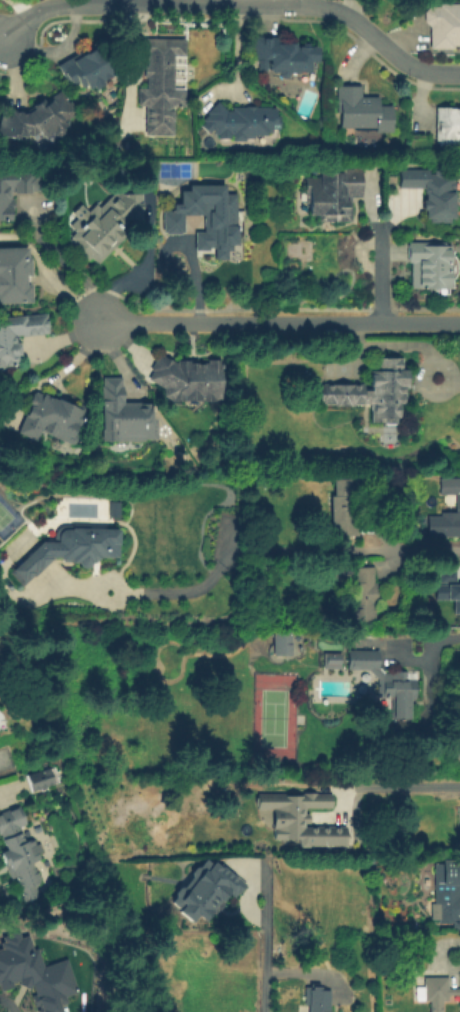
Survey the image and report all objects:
road: (111, 1)
road: (236, 1)
road: (20, 8)
road: (353, 10)
building: (444, 26)
building: (280, 56)
building: (88, 66)
building: (176, 72)
building: (159, 83)
building: (362, 110)
building: (37, 118)
building: (239, 121)
building: (448, 122)
building: (15, 185)
building: (432, 193)
building: (335, 195)
building: (205, 215)
building: (105, 223)
road: (183, 253)
building: (429, 264)
road: (67, 265)
building: (14, 273)
road: (381, 274)
road: (51, 307)
road: (279, 322)
road: (409, 345)
building: (7, 352)
building: (186, 379)
building: (373, 392)
building: (123, 415)
building: (52, 418)
building: (344, 507)
building: (457, 515)
park: (4, 516)
building: (69, 550)
road: (285, 551)
building: (447, 589)
building: (362, 595)
building: (93, 623)
road: (428, 639)
building: (281, 644)
building: (330, 661)
building: (386, 686)
park: (271, 718)
building: (457, 750)
building: (39, 780)
road: (405, 785)
building: (298, 818)
building: (19, 853)
building: (372, 860)
building: (356, 866)
building: (203, 889)
building: (447, 891)
road: (263, 946)
road: (438, 953)
building: (34, 972)
building: (459, 978)
building: (436, 990)
road: (340, 997)
building: (319, 1001)
road: (5, 1005)

